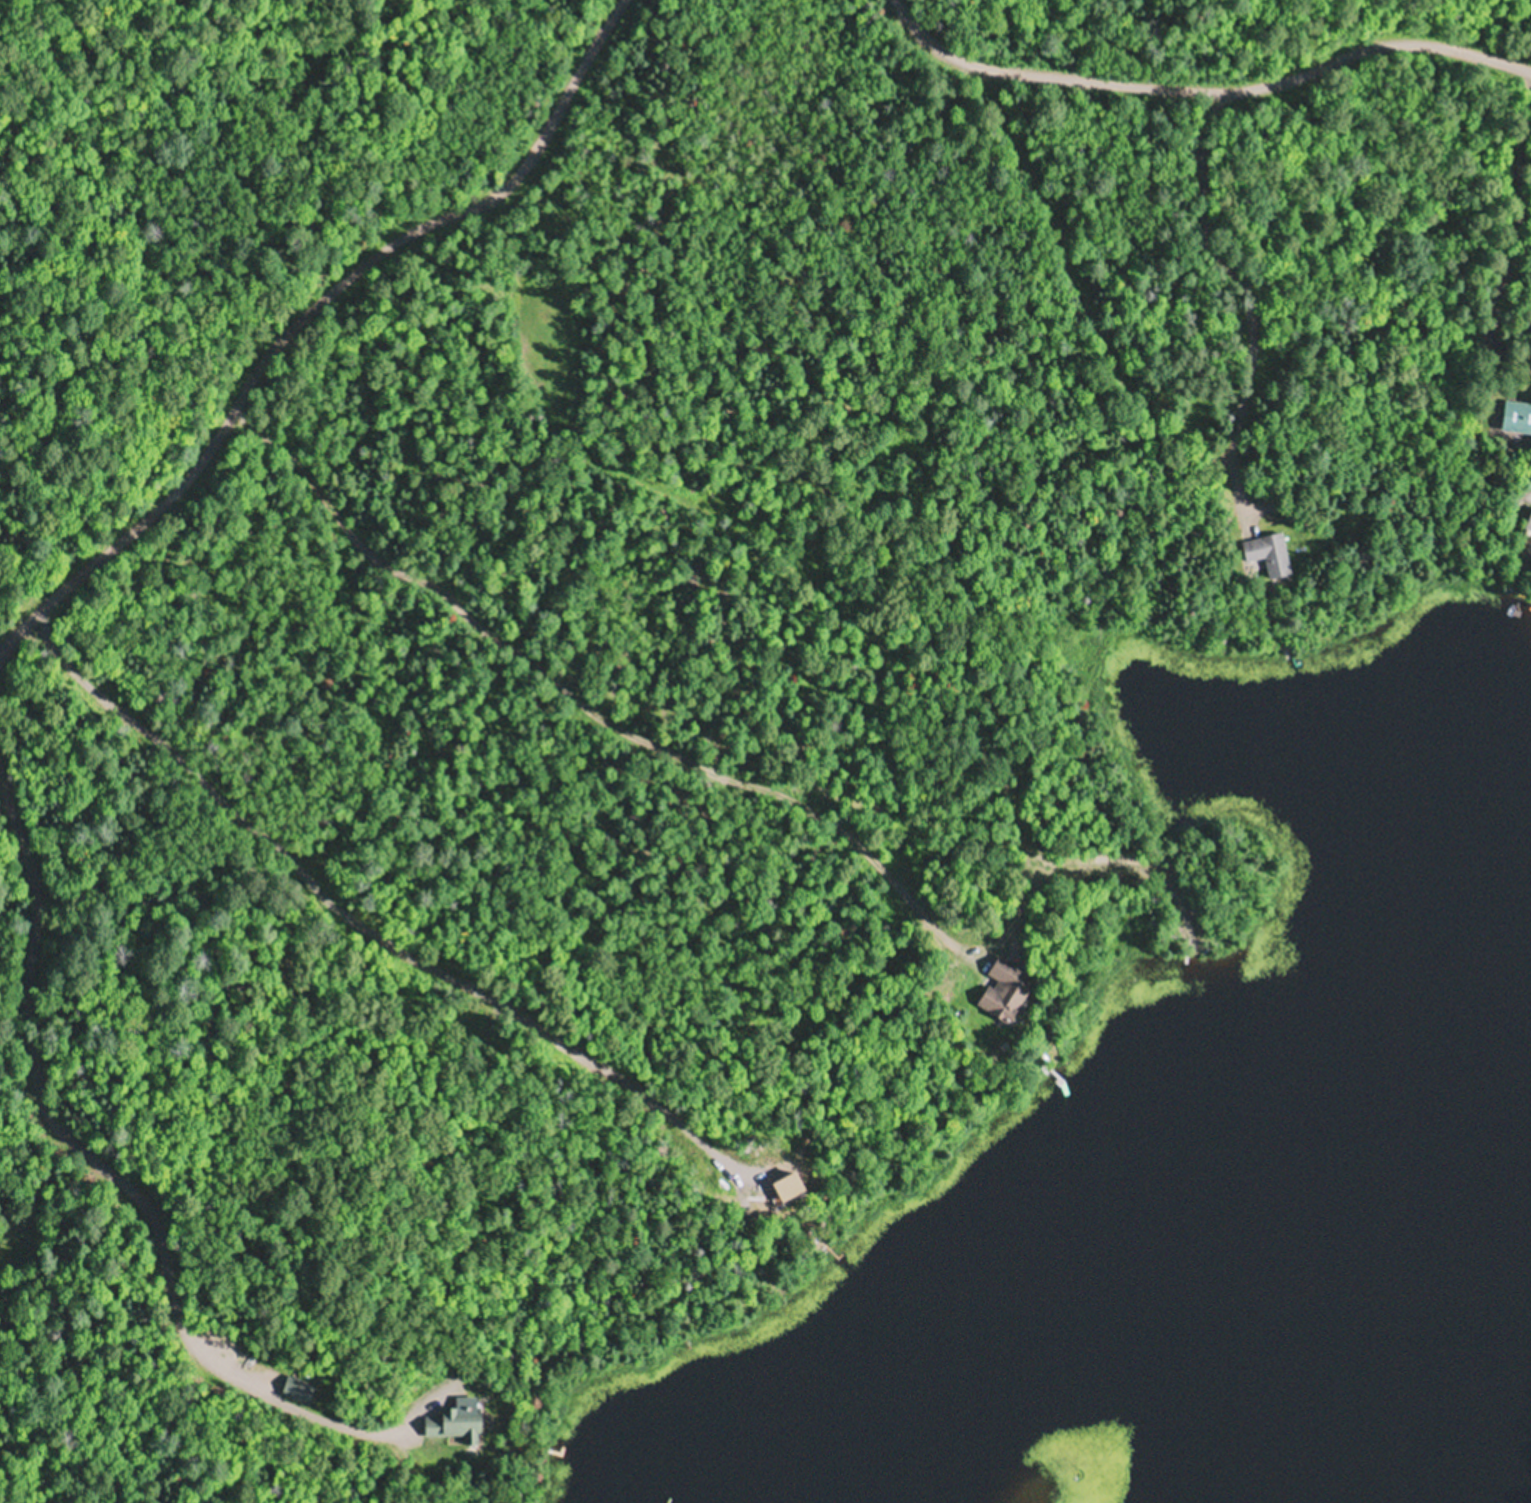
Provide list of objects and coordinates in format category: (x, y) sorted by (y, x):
road: (1217, 76)
road: (298, 297)
road: (607, 713)
road: (373, 957)
road: (118, 1153)

